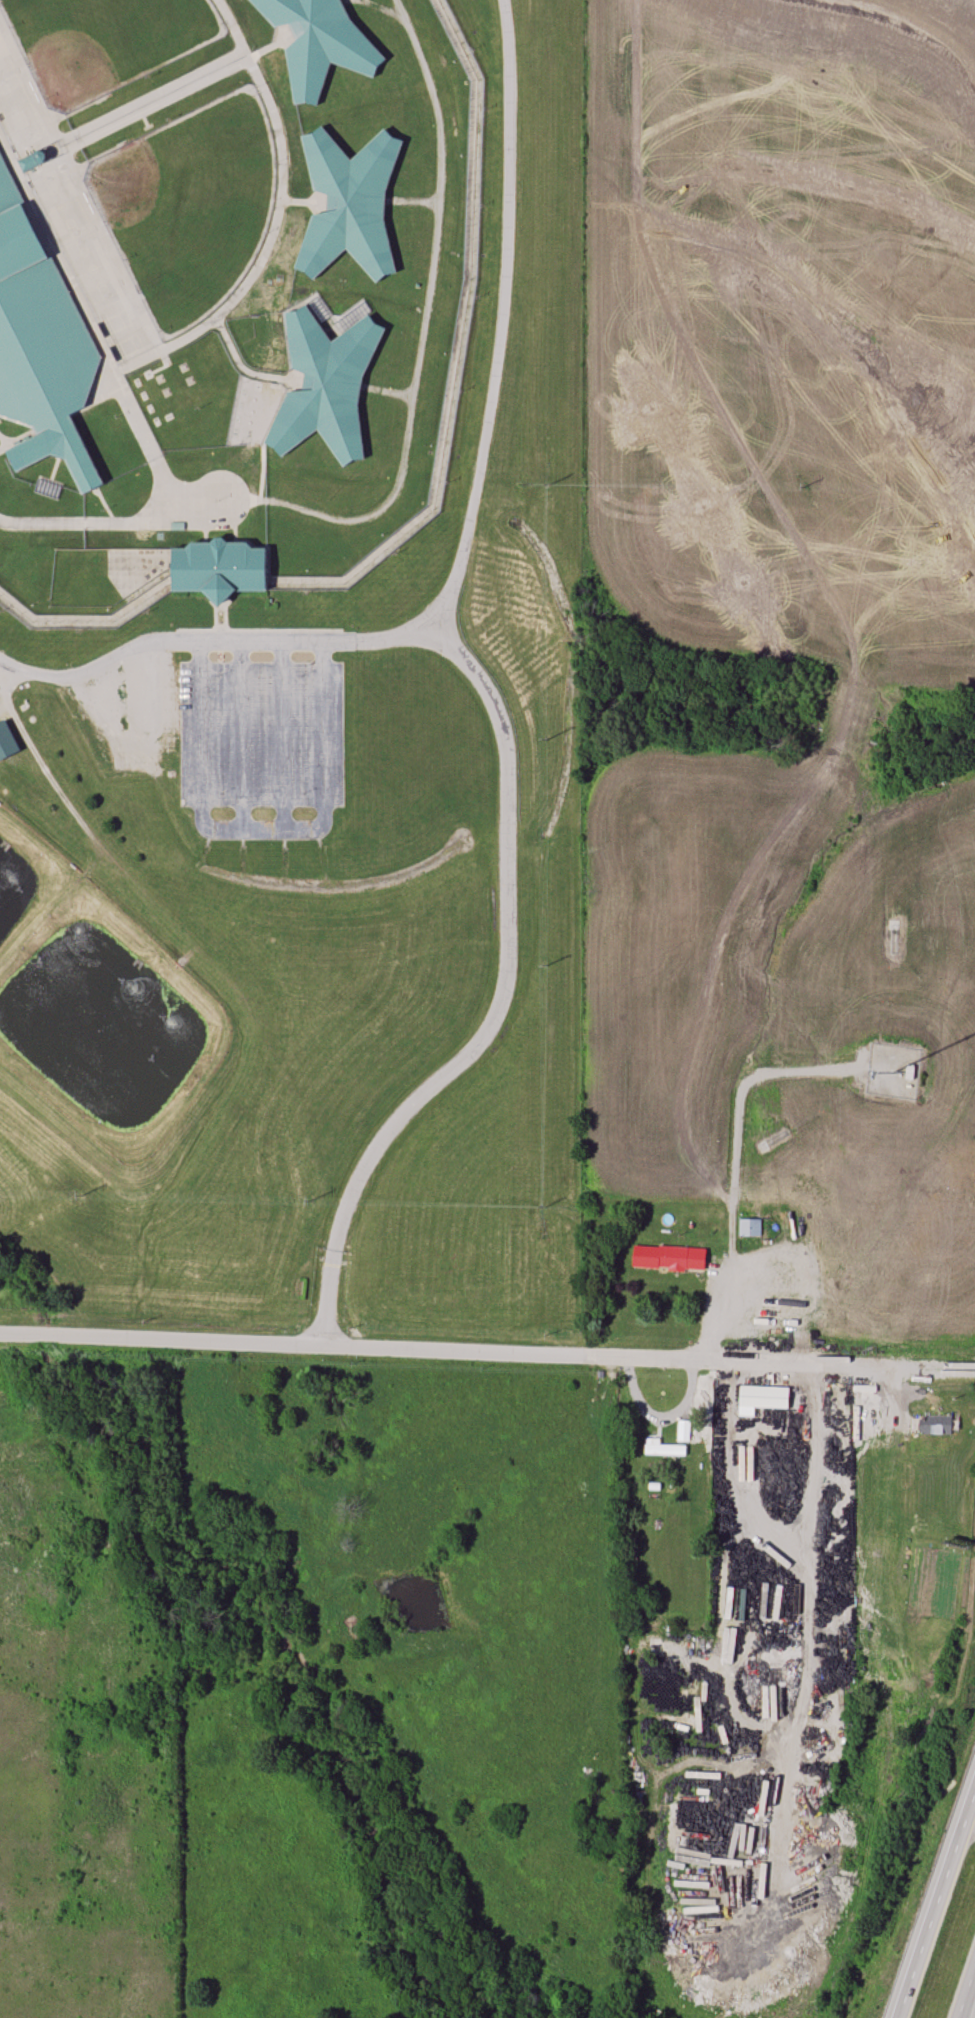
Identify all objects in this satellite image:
park: (100, 41)
building: (318, 43)
road: (115, 119)
road: (303, 201)
building: (349, 203)
park: (190, 206)
road: (276, 217)
road: (112, 249)
road: (425, 313)
road: (502, 322)
building: (42, 342)
road: (247, 369)
building: (329, 386)
road: (131, 403)
road: (18, 439)
road: (249, 499)
road: (200, 501)
road: (206, 520)
building: (224, 568)
road: (252, 642)
road: (36, 676)
building: (7, 743)
road: (48, 775)
road: (500, 1007)
building: (748, 1227)
road: (732, 1244)
building: (668, 1258)
road: (455, 1350)
road: (889, 1393)
building: (764, 1396)
building: (935, 1425)
building: (664, 1450)
road: (780, 1613)
building: (770, 1644)
road: (969, 1826)
road: (935, 1904)
road: (965, 1989)

